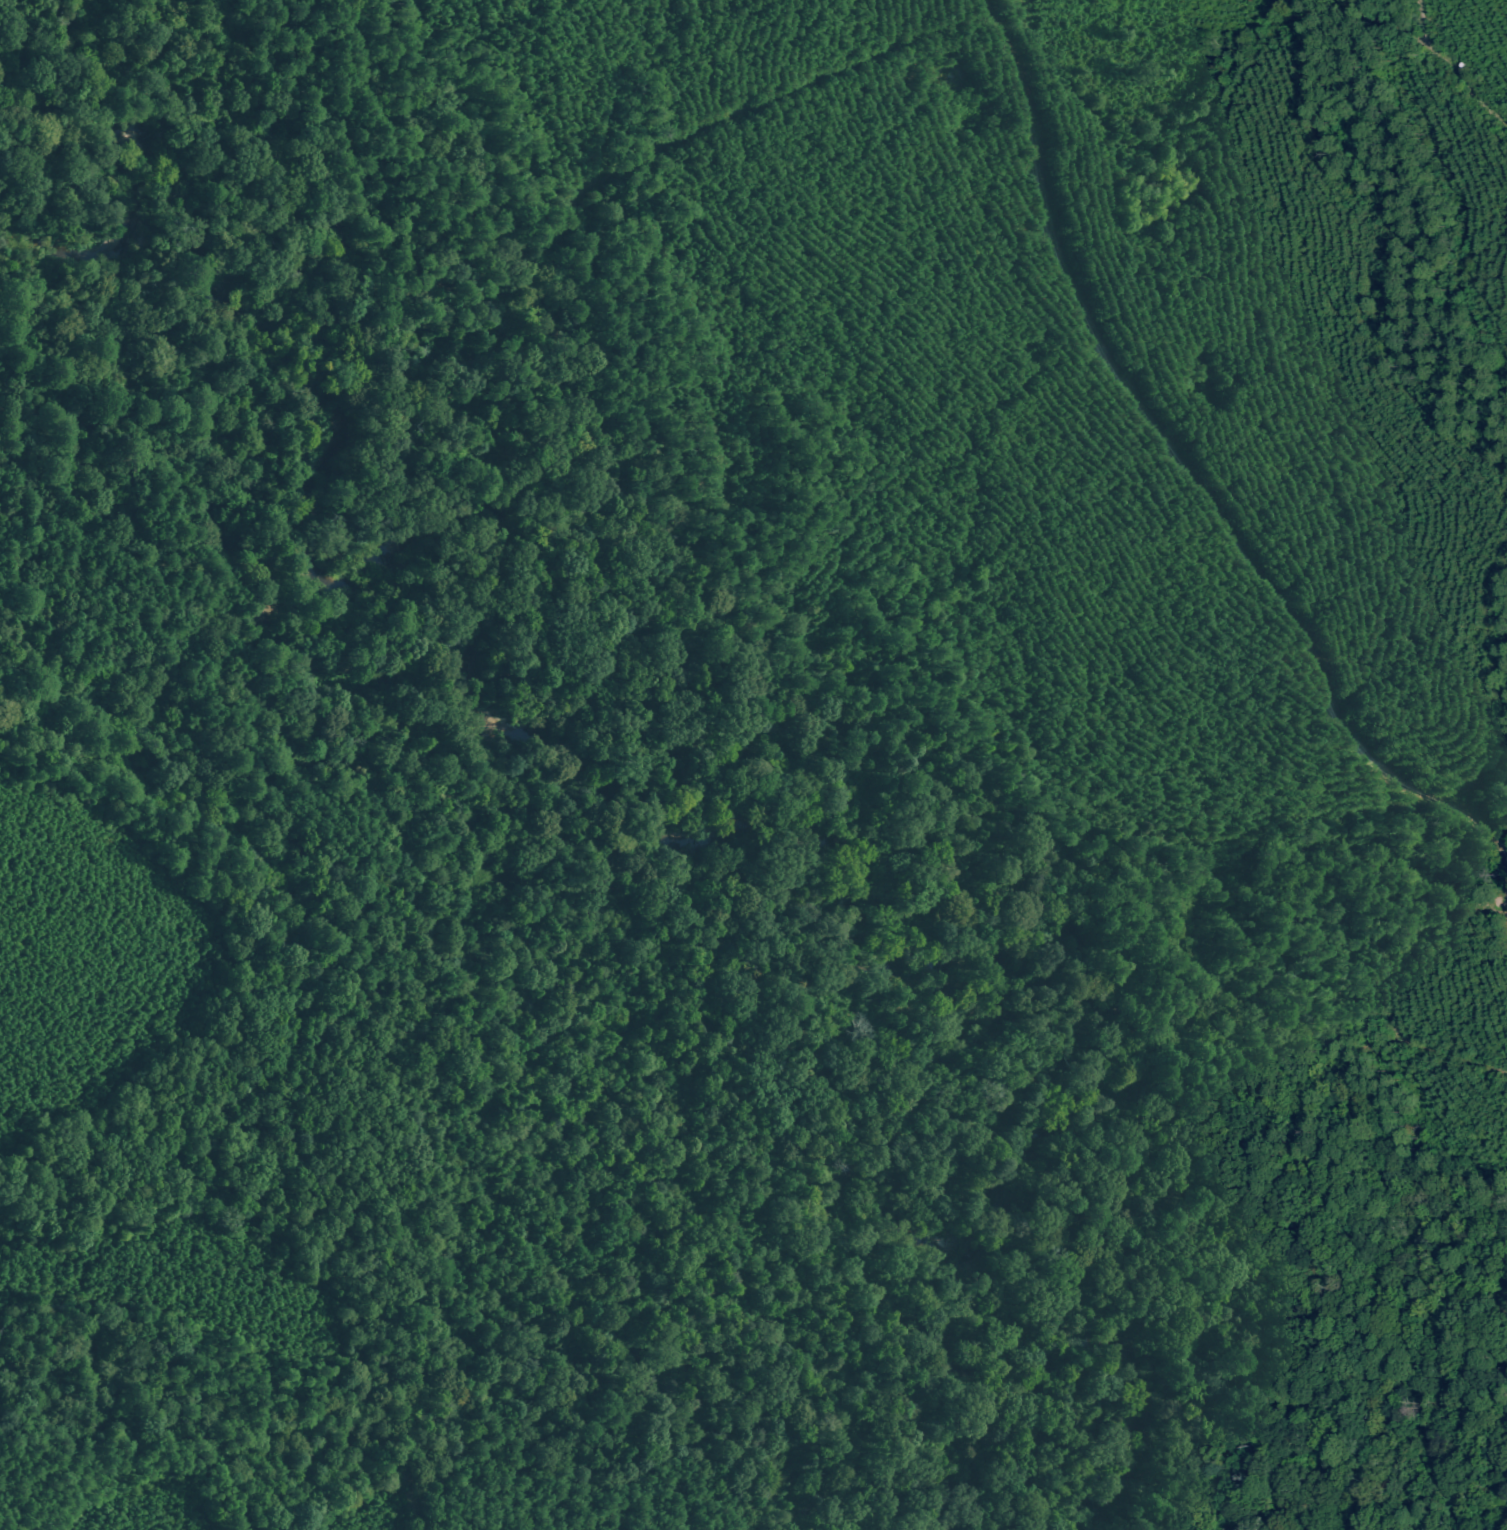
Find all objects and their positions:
road: (1203, 482)

